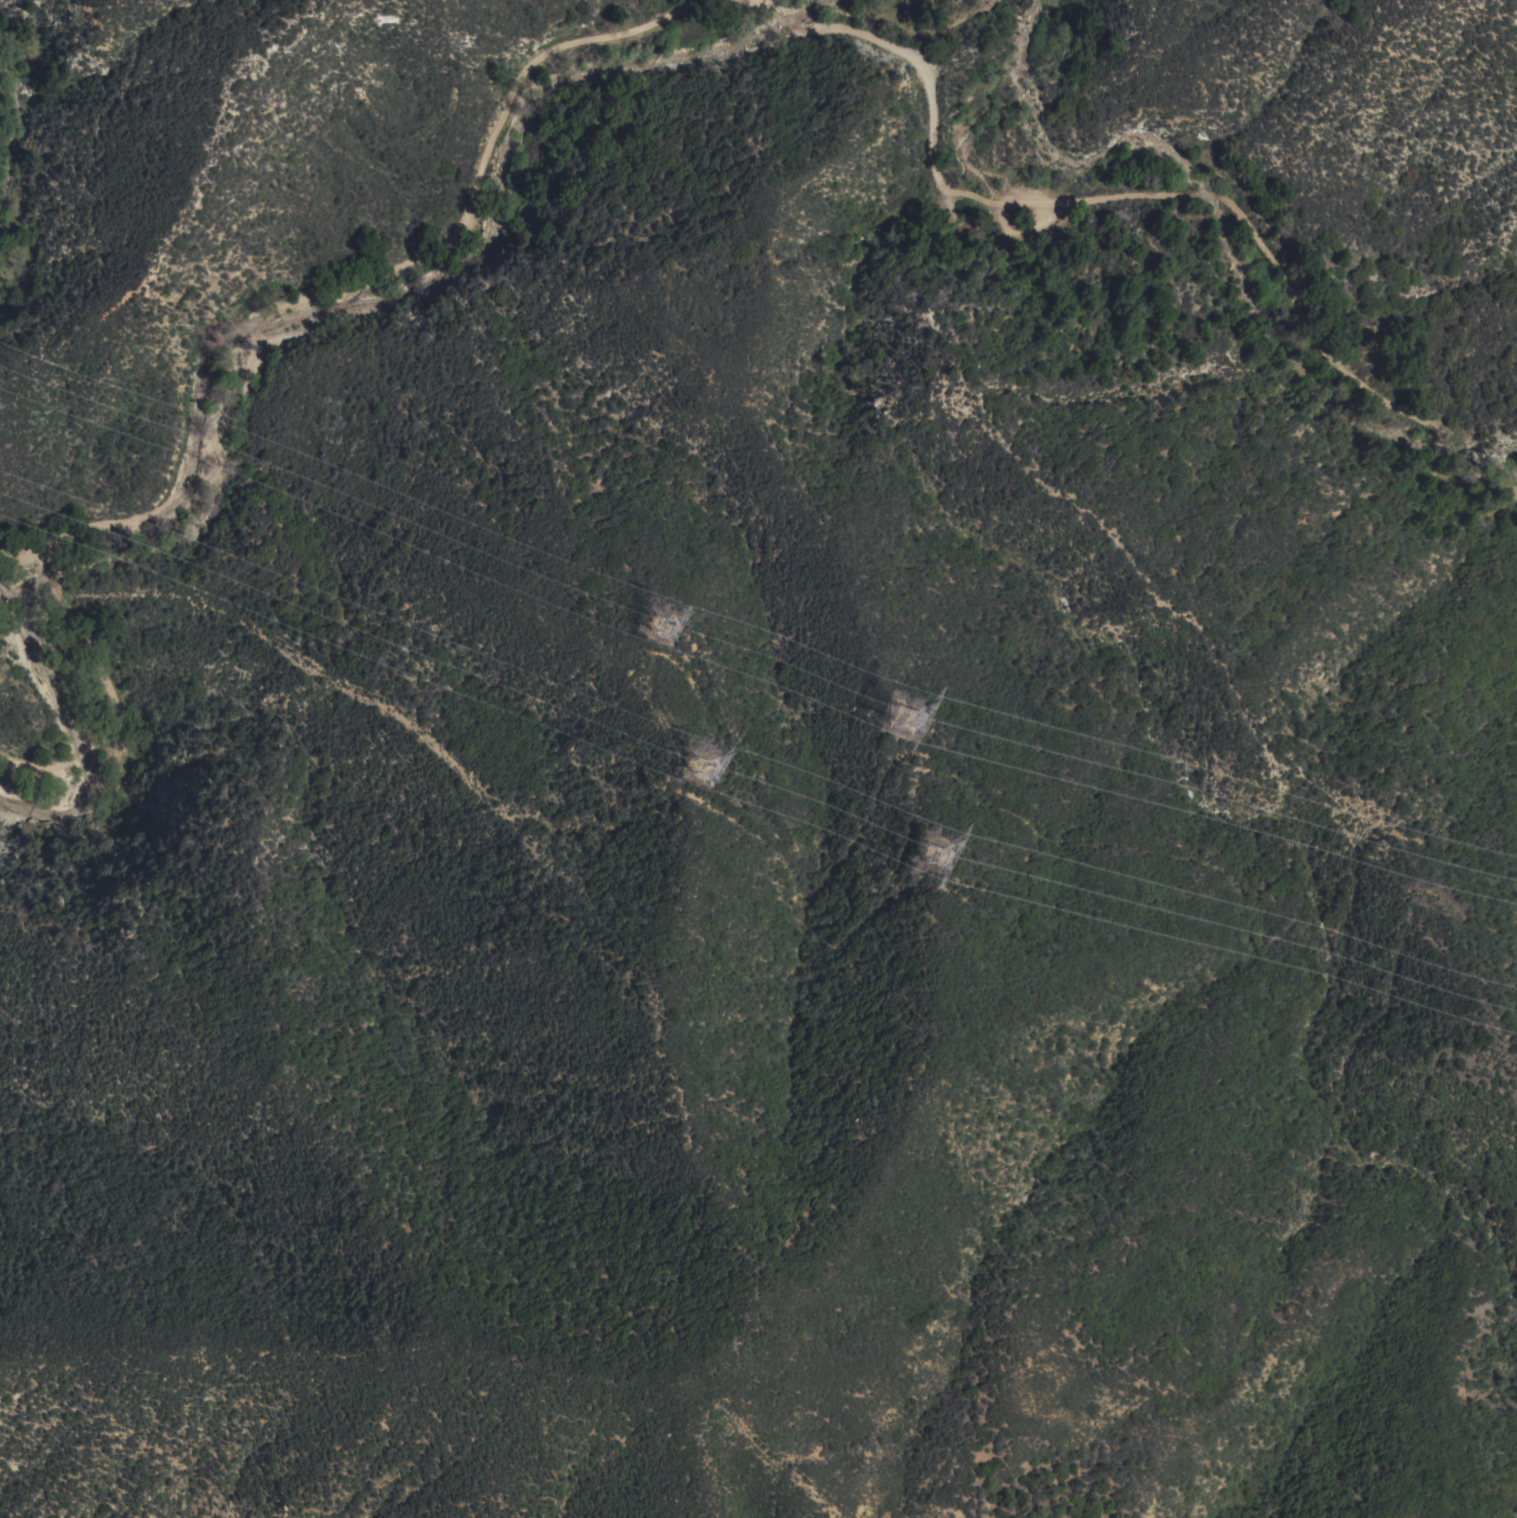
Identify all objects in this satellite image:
road: (1127, 198)
road: (221, 342)
power tower: (663, 631)
power tower: (906, 725)
power tower: (711, 773)
power tower: (945, 868)

